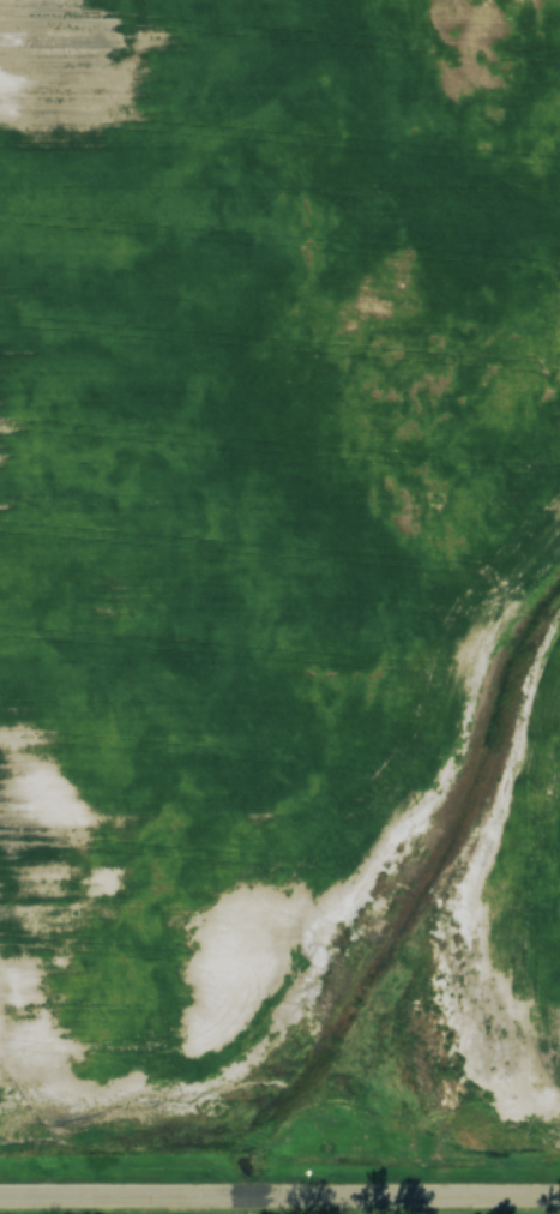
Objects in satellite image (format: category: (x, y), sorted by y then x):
road: (279, 1195)

